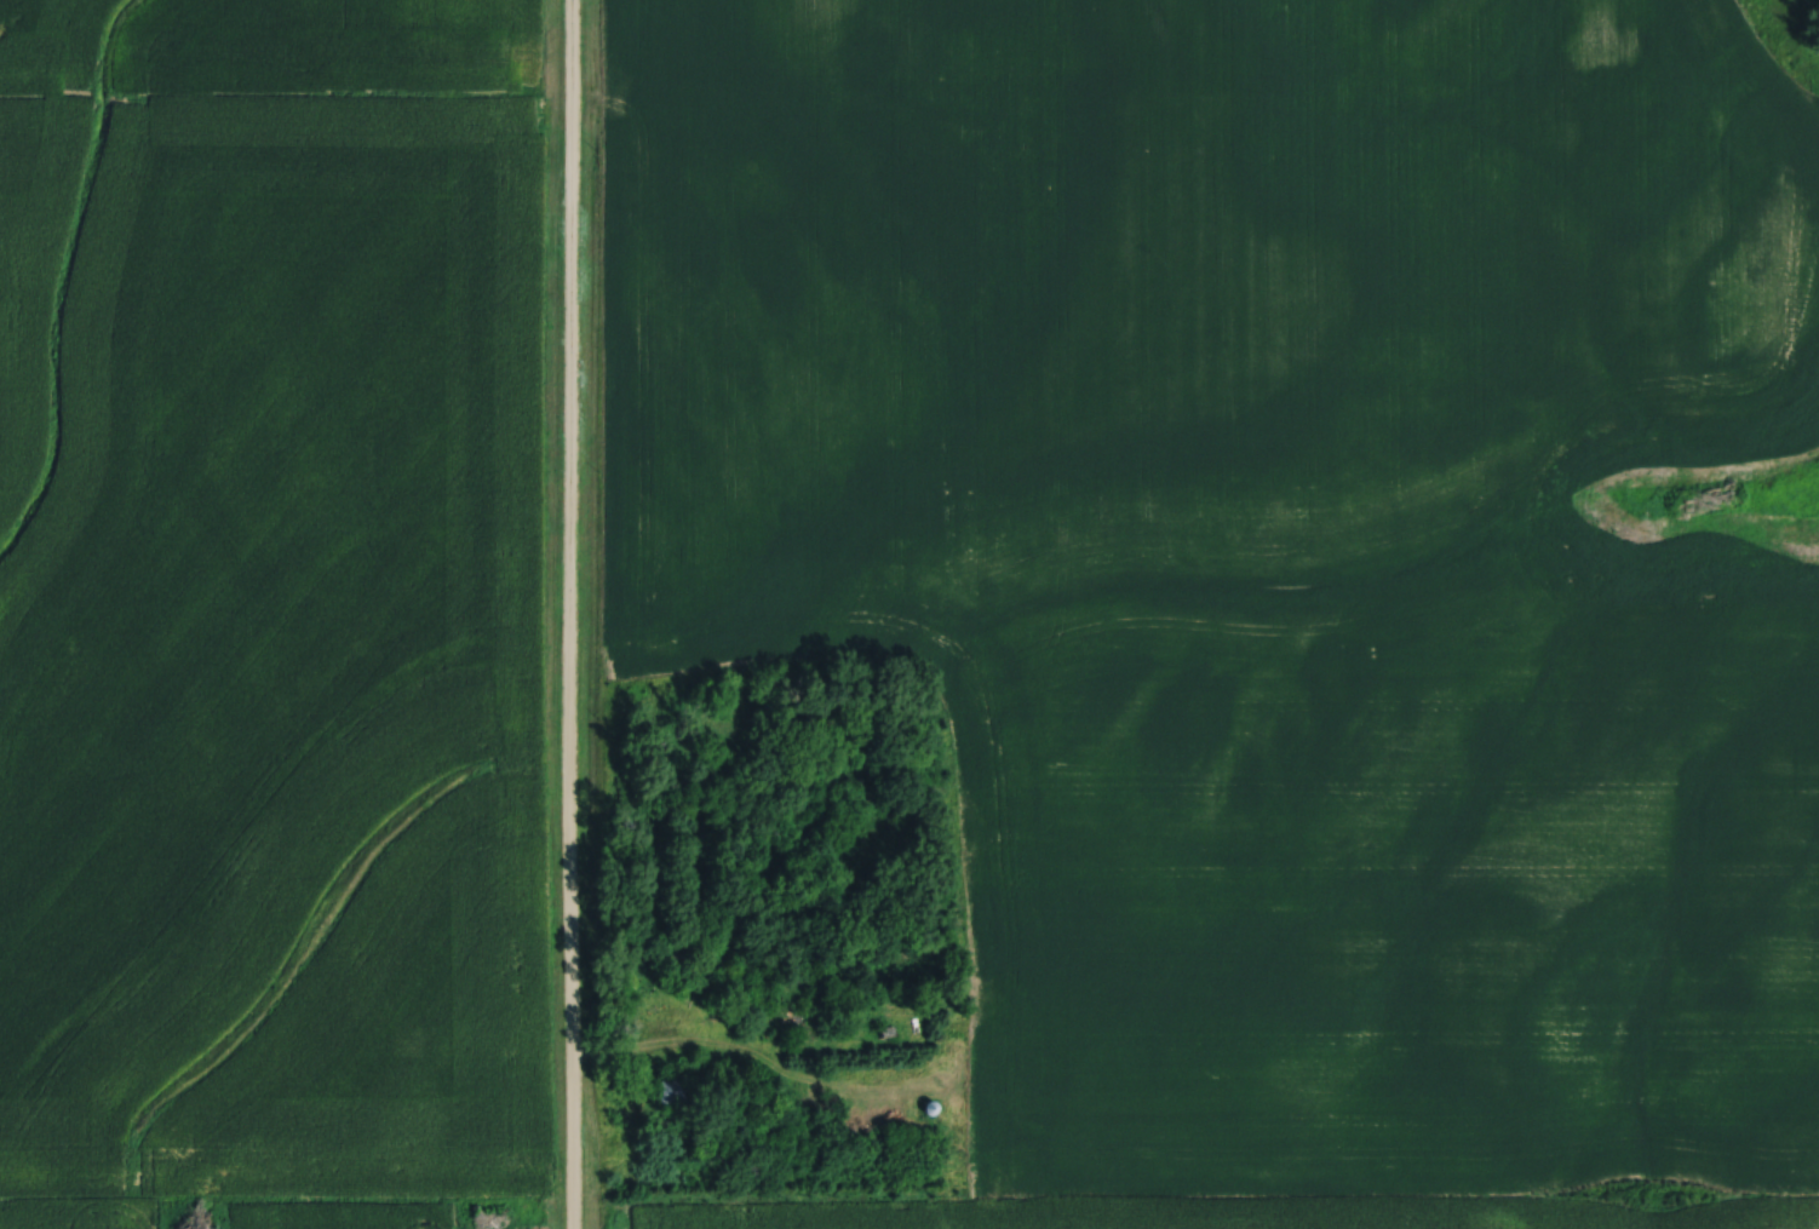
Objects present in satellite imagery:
road: (567, 614)
building: (672, 958)
building: (807, 1024)
building: (676, 1091)
building: (754, 1103)

